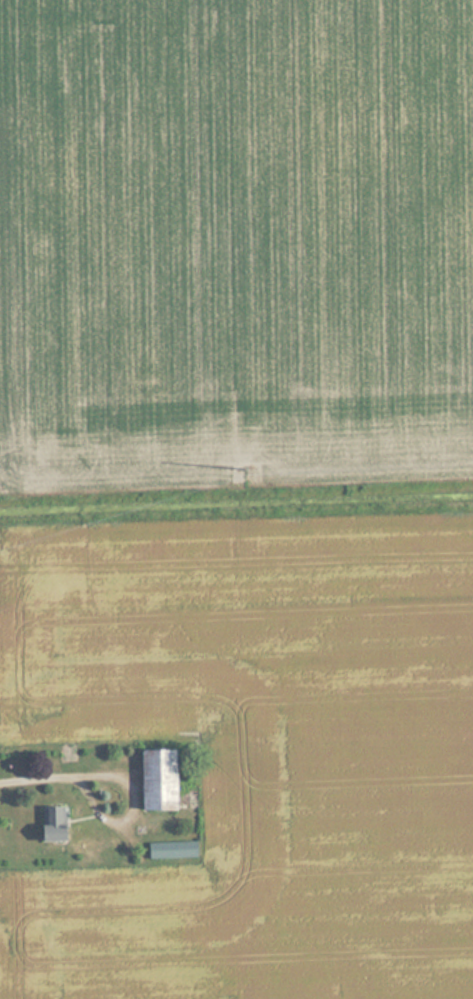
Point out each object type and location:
building: (153, 778)
building: (49, 823)
building: (169, 850)

